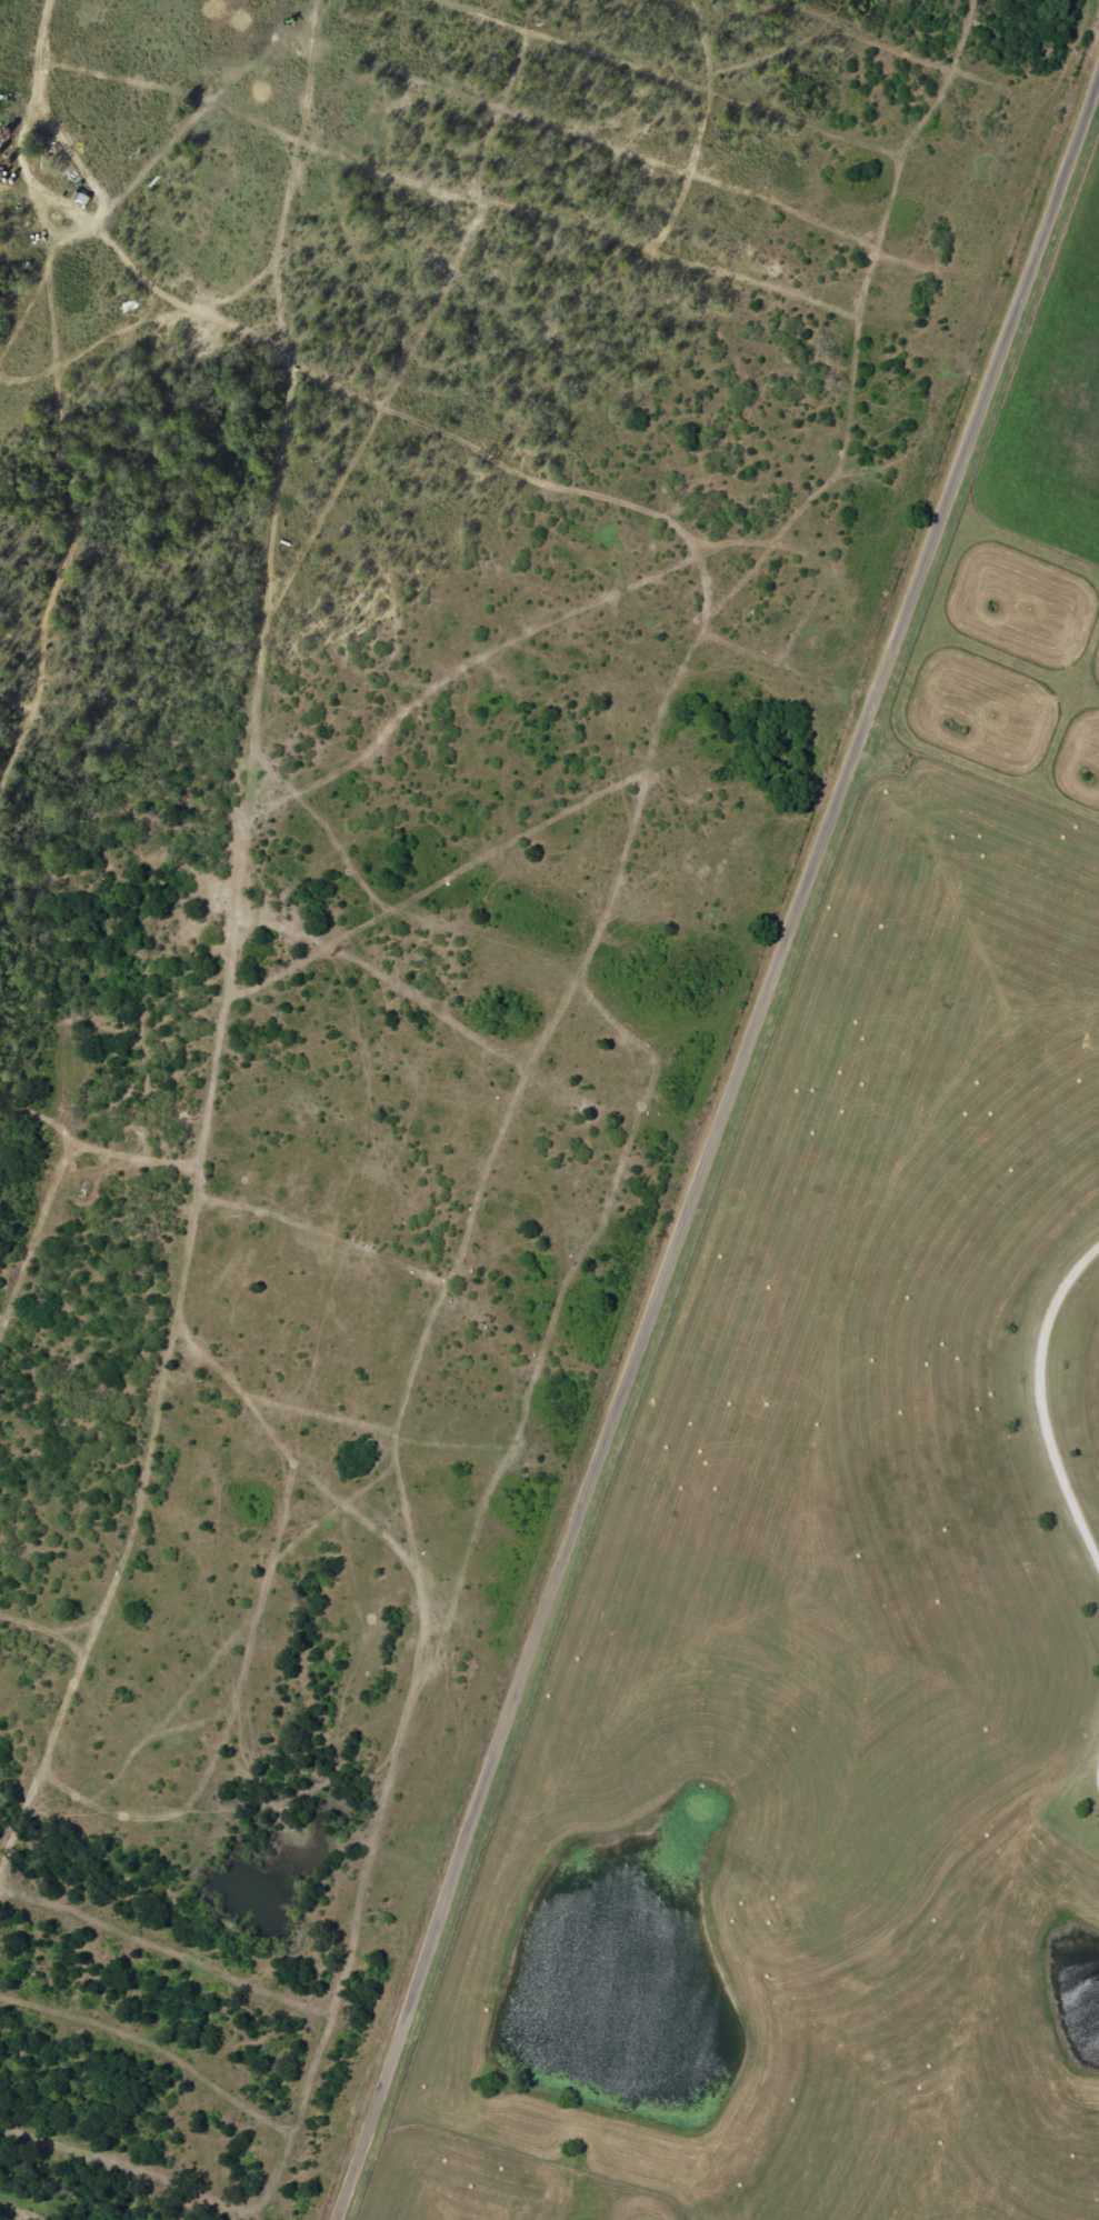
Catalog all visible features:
road: (721, 1123)
road: (1042, 1404)

